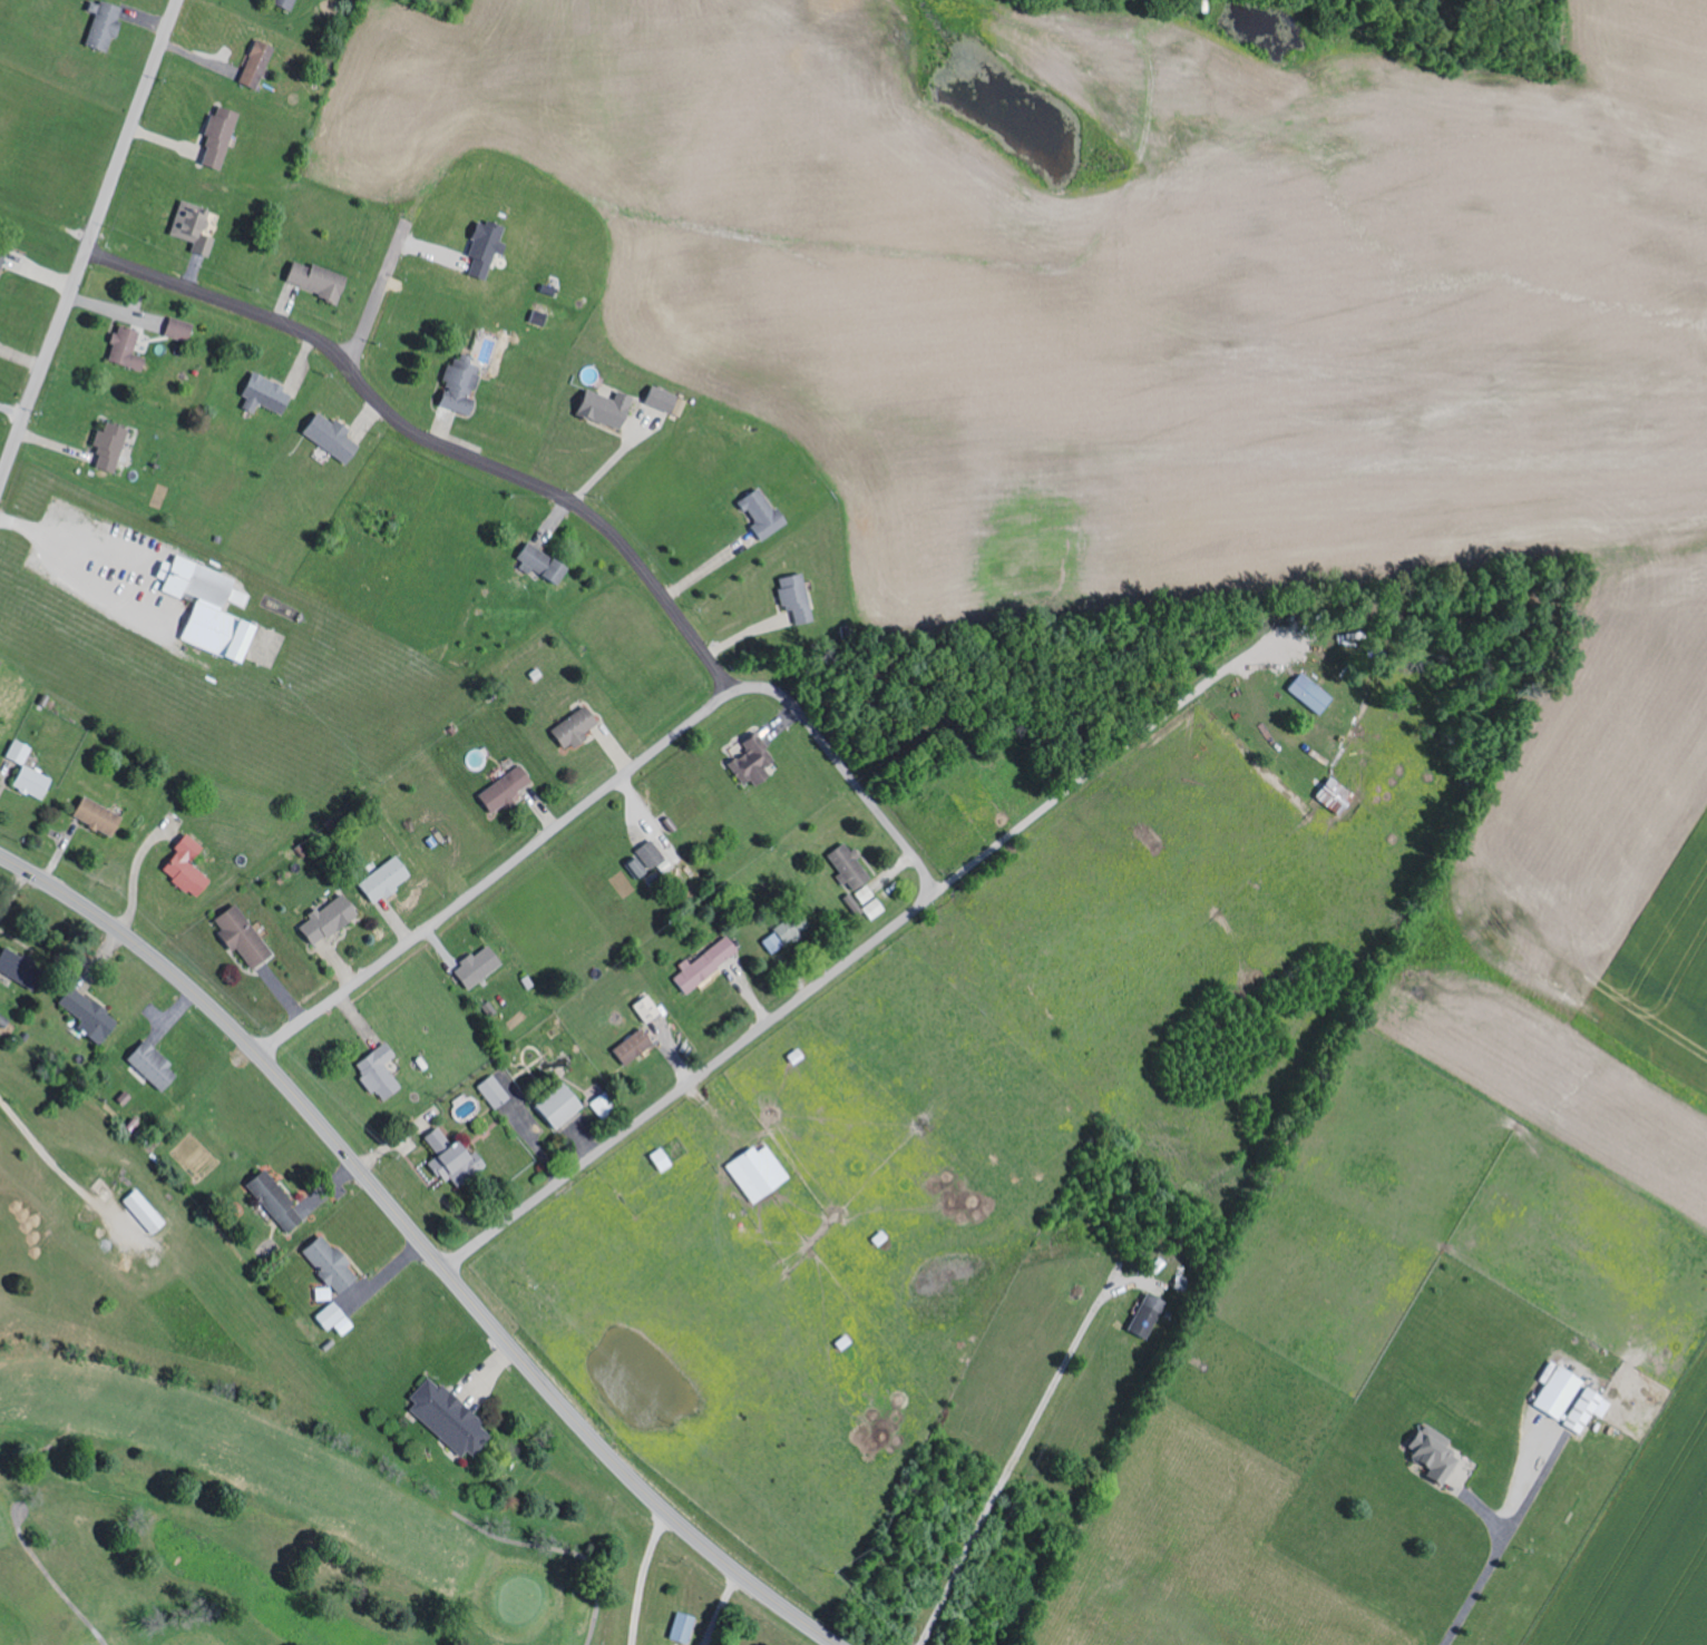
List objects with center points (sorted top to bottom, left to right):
building: (281, 3)
building: (98, 25)
building: (253, 63)
building: (214, 138)
building: (193, 226)
road: (89, 243)
building: (479, 248)
building: (0, 256)
building: (312, 280)
road: (374, 295)
building: (175, 327)
building: (120, 349)
building: (455, 384)
building: (262, 394)
building: (657, 399)
building: (598, 409)
building: (326, 437)
road: (432, 443)
building: (105, 447)
building: (757, 513)
building: (536, 564)
building: (791, 597)
building: (242, 598)
building: (213, 608)
building: (2, 664)
building: (1305, 693)
building: (578, 726)
road: (1100, 731)
building: (21, 751)
building: (753, 760)
building: (36, 782)
building: (509, 787)
building: (1330, 795)
building: (101, 815)
road: (882, 815)
road: (559, 826)
building: (647, 859)
building: (851, 865)
building: (191, 866)
building: (389, 878)
building: (867, 893)
building: (877, 908)
building: (334, 918)
building: (246, 937)
building: (782, 937)
building: (709, 962)
building: (481, 966)
building: (23, 968)
building: (651, 1008)
building: (92, 1014)
building: (638, 1045)
building: (157, 1065)
building: (383, 1071)
road: (705, 1073)
building: (496, 1091)
building: (566, 1105)
building: (605, 1107)
building: (457, 1157)
building: (665, 1158)
building: (762, 1172)
building: (280, 1201)
building: (148, 1211)
road: (422, 1244)
building: (333, 1263)
building: (1142, 1315)
building: (338, 1318)
building: (1553, 1392)
building: (1582, 1410)
building: (452, 1418)
road: (1018, 1452)
building: (1428, 1452)
park: (217, 1453)
road: (1520, 1478)
building: (682, 1626)

